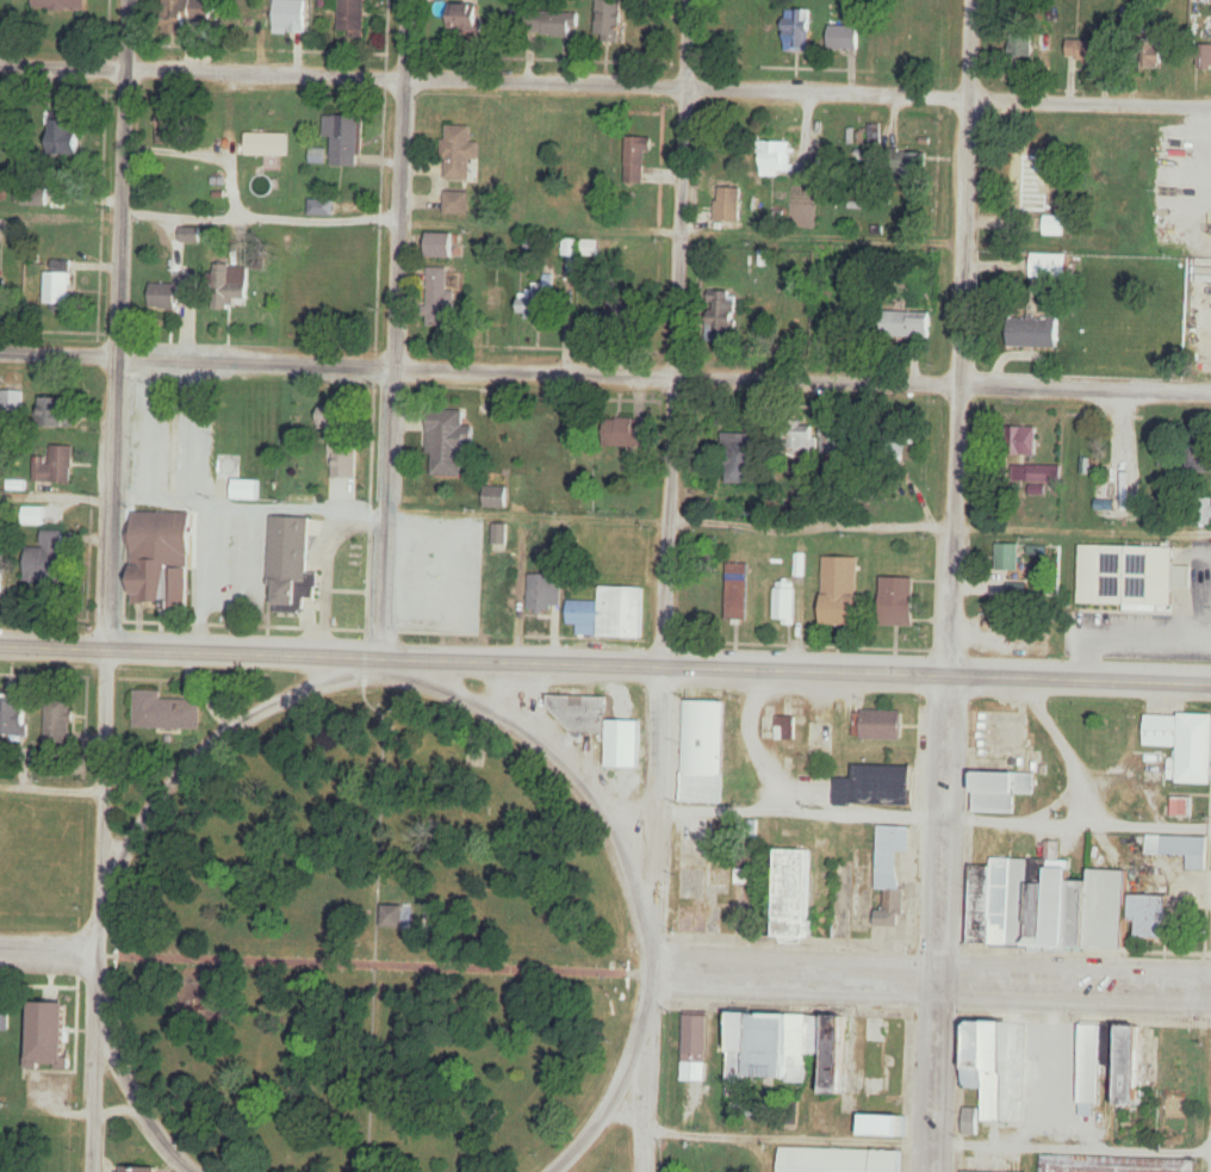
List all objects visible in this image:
building: (61, 5)
building: (182, 14)
building: (288, 15)
building: (353, 18)
building: (466, 18)
building: (241, 19)
building: (610, 20)
building: (551, 24)
building: (799, 29)
building: (843, 37)
road: (404, 39)
building: (1021, 50)
building: (1085, 51)
building: (1204, 56)
building: (1153, 57)
road: (605, 83)
building: (169, 130)
building: (871, 135)
building: (67, 138)
building: (343, 139)
building: (267, 144)
building: (459, 151)
building: (635, 159)
building: (907, 162)
building: (771, 167)
building: (807, 168)
building: (1029, 175)
building: (1204, 178)
road: (679, 186)
road: (967, 191)
building: (35, 197)
building: (455, 204)
building: (441, 246)
building: (579, 248)
building: (1049, 267)
building: (229, 286)
building: (57, 287)
building: (175, 293)
building: (439, 299)
building: (4, 302)
building: (534, 305)
building: (625, 315)
building: (724, 315)
road: (119, 323)
building: (902, 325)
building: (1035, 334)
building: (825, 337)
road: (604, 372)
road: (393, 377)
building: (11, 403)
building: (56, 413)
building: (331, 424)
building: (625, 433)
building: (800, 438)
building: (832, 439)
building: (1023, 441)
building: (906, 442)
building: (448, 444)
building: (1126, 448)
building: (734, 460)
building: (1198, 460)
building: (55, 466)
building: (1044, 475)
building: (257, 490)
building: (496, 497)
road: (203, 529)
building: (498, 534)
building: (159, 558)
building: (287, 559)
building: (45, 560)
road: (323, 560)
building: (1007, 560)
parking lot: (437, 577)
building: (1, 579)
building: (1130, 581)
building: (734, 594)
building: (837, 594)
building: (541, 596)
building: (784, 603)
building: (894, 603)
building: (607, 616)
road: (604, 664)
road: (386, 677)
road: (660, 688)
building: (162, 713)
building: (588, 714)
building: (13, 715)
building: (785, 721)
building: (58, 723)
building: (876, 725)
building: (818, 738)
building: (1182, 745)
road: (1066, 749)
building: (700, 754)
road: (940, 776)
building: (875, 786)
building: (998, 793)
road: (934, 812)
building: (1178, 850)
building: (888, 856)
building: (746, 894)
building: (793, 894)
building: (1026, 904)
building: (989, 905)
road: (373, 909)
road: (99, 910)
building: (1064, 911)
building: (1104, 911)
building: (1149, 917)
building: (396, 918)
park: (369, 948)
road: (49, 953)
road: (371, 967)
road: (791, 975)
road: (1074, 982)
building: (5, 1018)
building: (49, 1036)
building: (693, 1050)
building: (770, 1050)
building: (838, 1058)
building: (1089, 1066)
building: (1128, 1069)
building: (993, 1072)
road: (130, 1087)
road: (645, 1087)
road: (610, 1093)
building: (969, 1122)
building: (882, 1127)
building: (824, 1161)
building: (888, 1162)
building: (1111, 1165)
building: (139, 1171)
building: (957, 1171)

